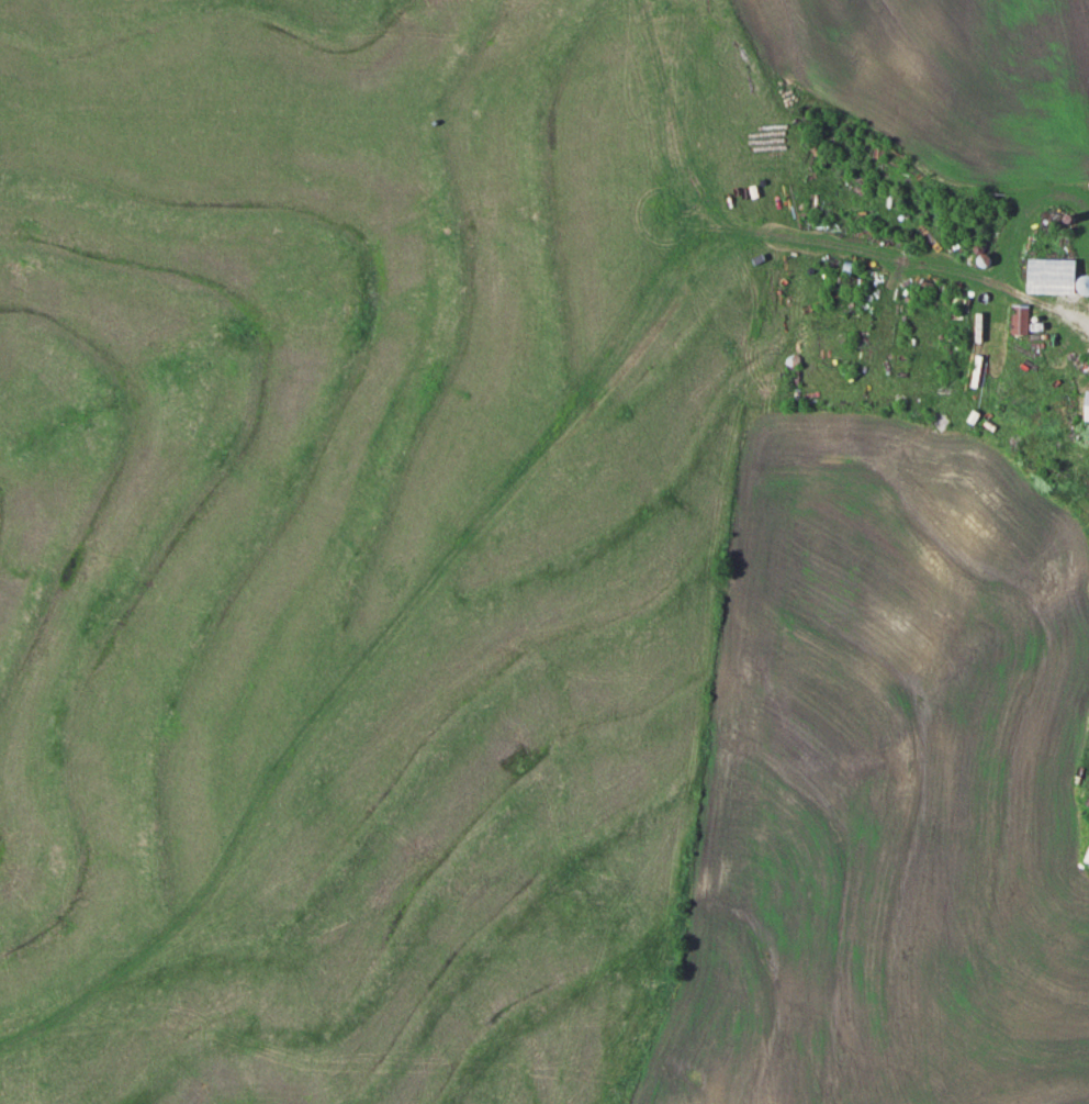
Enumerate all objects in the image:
building: (1057, 275)
building: (1022, 319)

